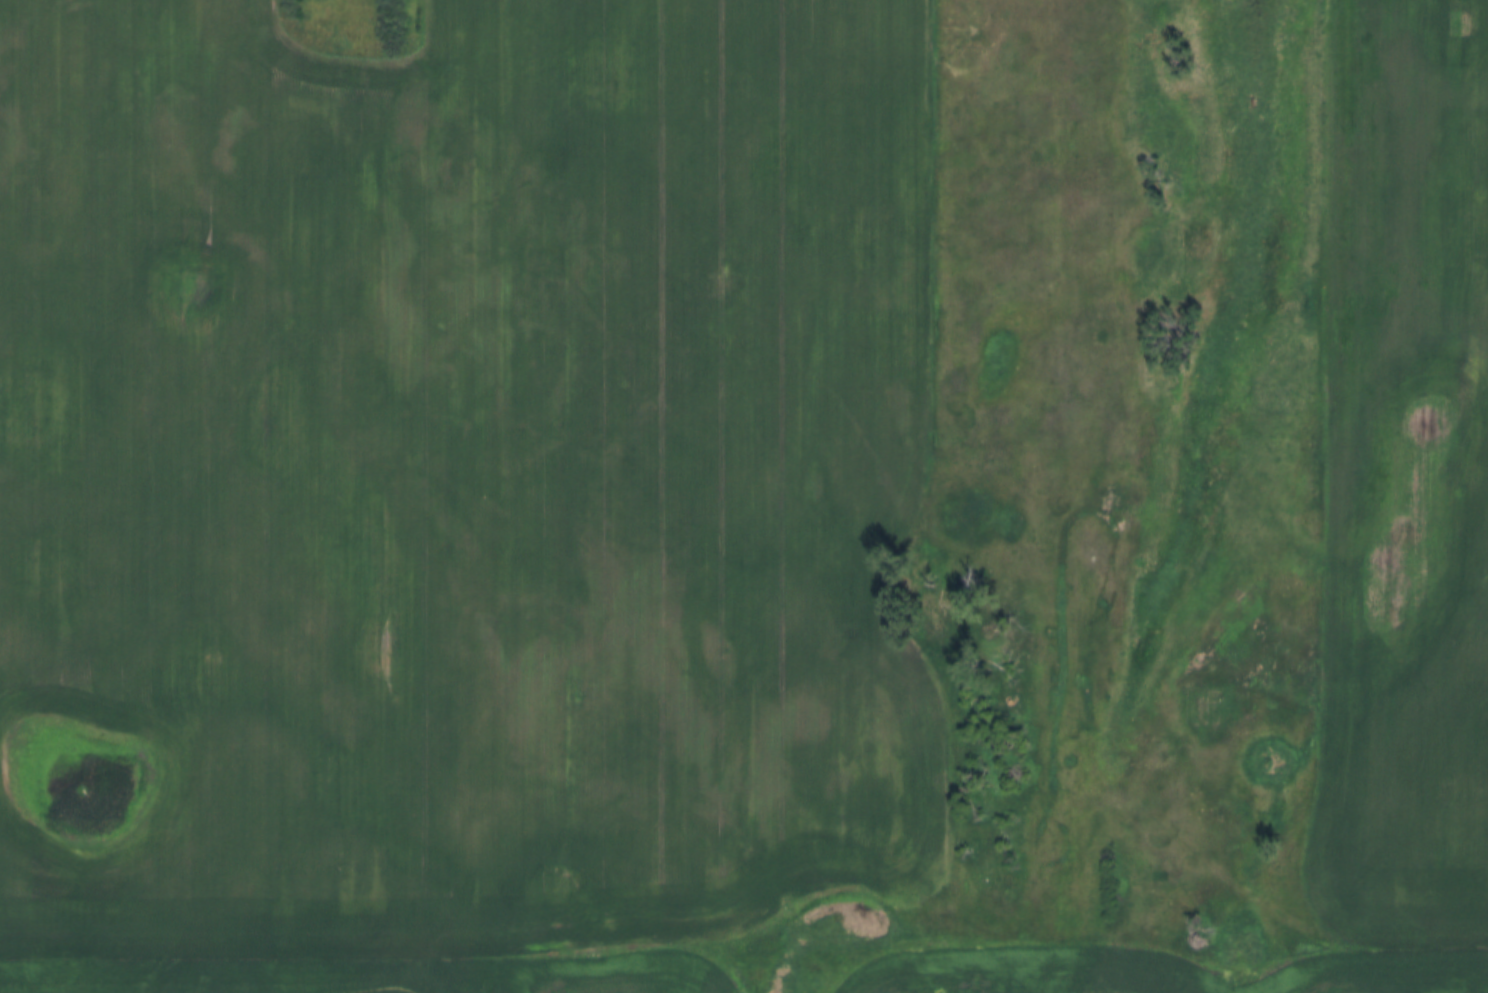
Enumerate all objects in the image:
road: (1318, 932)

